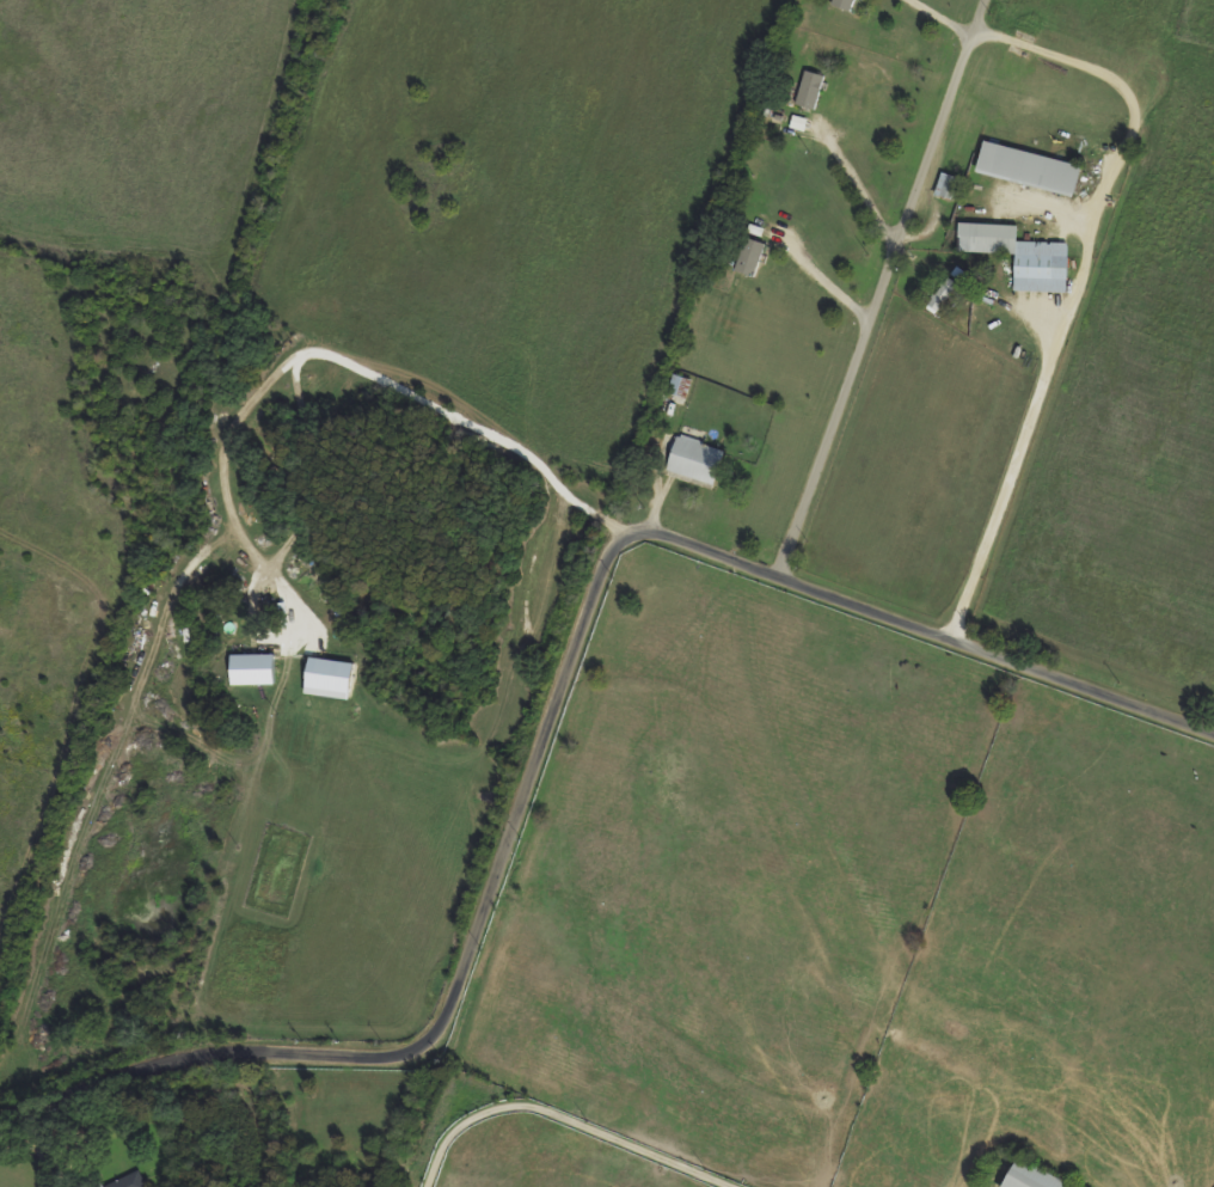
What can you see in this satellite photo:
building: (840, 4)
road: (937, 18)
building: (807, 88)
building: (1024, 167)
building: (942, 184)
building: (983, 237)
building: (747, 256)
building: (1037, 265)
road: (816, 280)
road: (1071, 287)
road: (876, 290)
road: (326, 354)
building: (691, 459)
building: (247, 668)
building: (324, 678)
road: (554, 700)
building: (1026, 1177)
building: (127, 1181)

